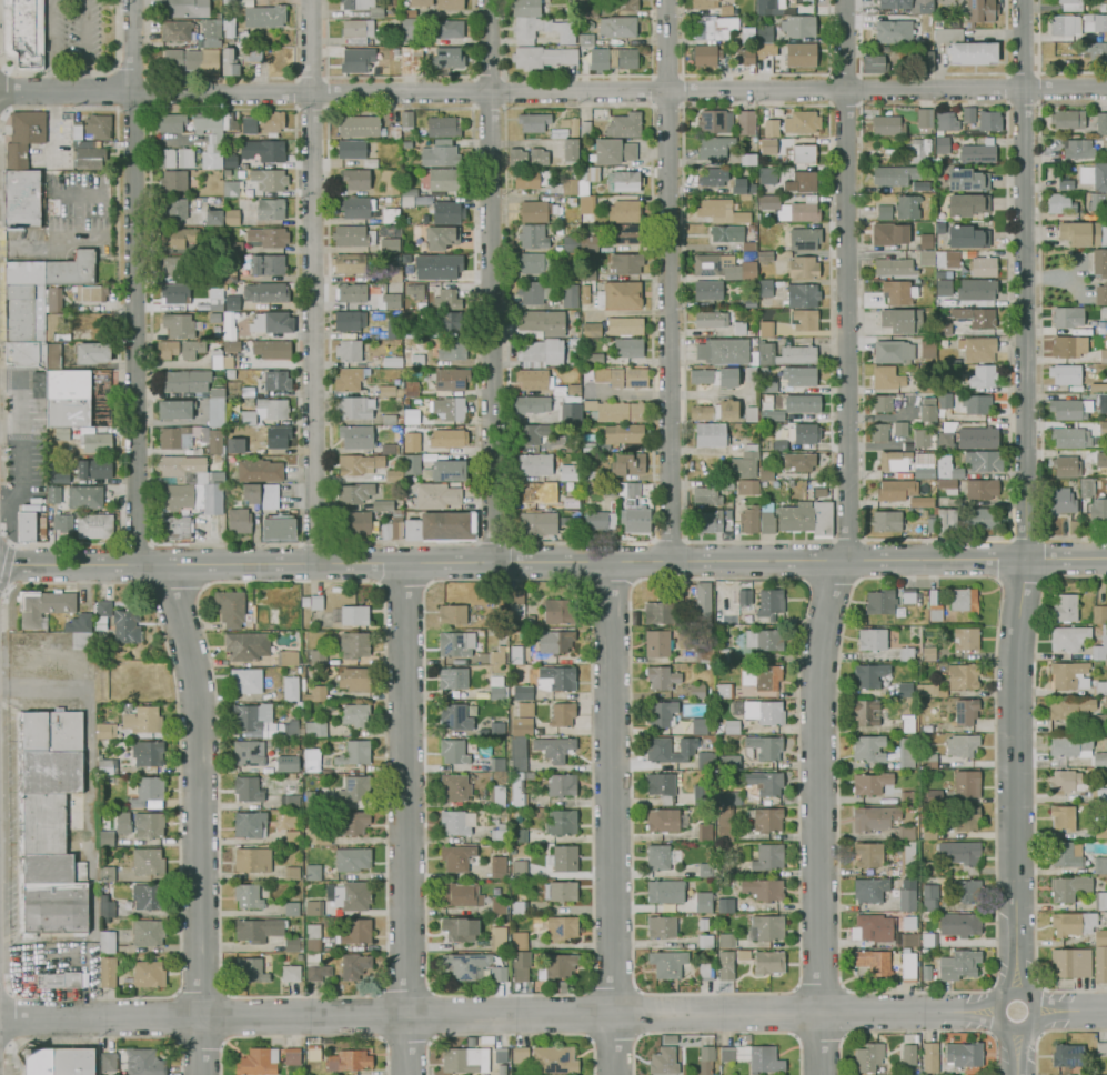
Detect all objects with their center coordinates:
building: (583, 1)
building: (231, 2)
building: (245, 2)
building: (393, 2)
building: (421, 2)
building: (705, 3)
building: (894, 3)
building: (450, 4)
building: (1073, 4)
building: (624, 6)
building: (765, 6)
building: (364, 7)
building: (187, 8)
building: (526, 8)
building: (927, 8)
building: (1104, 8)
building: (588, 10)
building: (726, 10)
building: (391, 11)
building: (982, 11)
building: (409, 12)
building: (603, 12)
building: (220, 16)
building: (264, 16)
building: (1087, 17)
building: (758, 19)
building: (954, 22)
building: (937, 23)
building: (588, 24)
building: (1063, 24)
building: (798, 26)
building: (229, 27)
building: (411, 27)
building: (617, 27)
building: (713, 27)
building: (211, 28)
building: (177, 30)
building: (446, 30)
building: (358, 31)
building: (524, 31)
building: (894, 31)
building: (23, 33)
building: (765, 33)
building: (194, 34)
building: (748, 37)
building: (243, 39)
building: (586, 39)
building: (209, 43)
road: (49, 44)
road: (82, 44)
building: (887, 48)
building: (964, 48)
building: (1096, 50)
building: (706, 54)
building: (801, 54)
building: (447, 58)
building: (543, 58)
building: (745, 58)
building: (356, 59)
building: (613, 59)
building: (194, 60)
building: (239, 60)
building: (411, 60)
building: (926, 60)
building: (874, 63)
road: (1037, 70)
road: (1022, 71)
road: (85, 72)
road: (932, 72)
road: (755, 73)
road: (844, 73)
road: (576, 74)
road: (666, 74)
road: (489, 76)
road: (311, 77)
road: (399, 77)
road: (219, 78)
road: (1006, 88)
road: (1039, 88)
road: (112, 89)
road: (828, 89)
road: (861, 89)
road: (651, 90)
road: (683, 90)
road: (473, 91)
road: (505, 91)
road: (553, 91)
road: (295, 93)
road: (326, 93)
road: (150, 94)
road: (1006, 104)
road: (1023, 104)
road: (844, 106)
road: (505, 107)
road: (489, 108)
road: (666, 108)
road: (133, 110)
road: (311, 111)
building: (969, 114)
building: (925, 117)
building: (1068, 119)
building: (406, 120)
building: (989, 120)
building: (228, 121)
building: (272, 121)
building: (534, 121)
building: (715, 121)
building: (746, 122)
building: (802, 122)
building: (946, 122)
building: (170, 123)
building: (1101, 123)
building: (248, 124)
building: (625, 124)
building: (888, 124)
building: (98, 127)
building: (360, 127)
building: (444, 127)
building: (772, 128)
building: (566, 129)
building: (585, 130)
building: (77, 132)
building: (394, 132)
building: (24, 138)
building: (210, 140)
building: (406, 143)
road: (523, 143)
building: (922, 144)
building: (943, 144)
building: (768, 147)
building: (717, 148)
building: (1078, 148)
building: (352, 149)
building: (263, 150)
building: (571, 150)
building: (612, 151)
building: (979, 152)
building: (804, 153)
building: (440, 154)
building: (1106, 154)
building: (517, 157)
building: (539, 157)
building: (90, 158)
building: (167, 158)
building: (185, 158)
building: (748, 160)
building: (230, 161)
building: (574, 169)
building: (227, 171)
building: (556, 172)
building: (588, 173)
building: (896, 174)
building: (767, 175)
building: (1095, 175)
building: (713, 177)
building: (531, 178)
building: (270, 179)
building: (356, 179)
building: (967, 179)
building: (174, 180)
building: (444, 180)
building: (390, 181)
building: (624, 181)
building: (802, 181)
building: (744, 184)
building: (1066, 184)
building: (566, 185)
building: (920, 185)
building: (231, 188)
building: (410, 191)
building: (20, 199)
building: (204, 199)
building: (423, 200)
building: (407, 201)
building: (572, 201)
building: (768, 201)
building: (1097, 201)
building: (1060, 203)
building: (586, 204)
building: (968, 204)
building: (907, 207)
building: (358, 208)
building: (174, 209)
building: (270, 209)
building: (722, 209)
building: (536, 211)
building: (624, 211)
building: (447, 212)
building: (804, 212)
building: (884, 212)
building: (391, 214)
building: (213, 217)
building: (231, 218)
building: (422, 219)
building: (940, 228)
building: (727, 232)
building: (625, 233)
building: (889, 233)
building: (1080, 233)
building: (353, 235)
building: (268, 237)
building: (533, 237)
building: (967, 237)
building: (440, 238)
building: (805, 238)
building: (183, 239)
building: (571, 243)
building: (588, 243)
building: (389, 245)
building: (749, 245)
building: (237, 248)
building: (765, 257)
building: (927, 258)
building: (947, 259)
building: (626, 262)
building: (1100, 262)
building: (349, 263)
building: (534, 263)
building: (268, 264)
building: (713, 264)
building: (173, 265)
building: (437, 267)
building: (894, 267)
building: (984, 267)
building: (804, 268)
building: (394, 269)
building: (748, 270)
building: (53, 271)
building: (230, 274)
building: (570, 274)
building: (940, 274)
building: (588, 275)
road: (668, 279)
road: (1025, 279)
road: (491, 280)
road: (312, 281)
building: (942, 287)
building: (977, 289)
building: (708, 290)
building: (415, 291)
building: (533, 291)
building: (265, 292)
building: (899, 292)
building: (90, 293)
building: (174, 293)
building: (351, 293)
building: (1100, 293)
building: (585, 294)
building: (620, 294)
building: (768, 294)
building: (570, 295)
building: (803, 295)
building: (53, 300)
building: (217, 300)
building: (392, 300)
building: (447, 300)
building: (232, 302)
building: (751, 302)
building: (76, 308)
building: (1104, 309)
building: (24, 313)
building: (215, 317)
building: (1067, 317)
road: (1040, 318)
building: (711, 319)
building: (805, 319)
building: (349, 320)
building: (444, 320)
building: (903, 320)
building: (272, 322)
building: (982, 322)
building: (541, 323)
building: (1094, 323)
building: (179, 325)
building: (229, 325)
building: (625, 325)
building: (392, 328)
building: (739, 328)
building: (766, 328)
building: (1101, 328)
building: (409, 330)
building: (591, 330)
building: (217, 331)
building: (751, 332)
building: (573, 342)
building: (404, 343)
building: (928, 346)
building: (1069, 346)
building: (630, 348)
building: (978, 348)
building: (192, 349)
building: (272, 349)
building: (167, 350)
building: (349, 350)
building: (724, 351)
building: (893, 351)
building: (434, 352)
building: (540, 352)
building: (26, 353)
building: (92, 353)
building: (231, 353)
building: (785, 354)
building: (1104, 355)
building: (53, 356)
building: (217, 359)
building: (392, 362)
building: (924, 366)
building: (763, 368)
building: (230, 373)
building: (751, 374)
building: (1065, 374)
building: (799, 375)
building: (979, 375)
building: (610, 376)
building: (716, 376)
building: (636, 378)
building: (887, 378)
building: (349, 379)
building: (451, 379)
building: (534, 379)
building: (220, 380)
building: (276, 380)
building: (187, 381)
building: (928, 383)
building: (39, 384)
building: (769, 386)
building: (1098, 386)
building: (411, 389)
building: (574, 389)
building: (560, 390)
building: (248, 391)
building: (390, 391)
building: (217, 392)
building: (70, 400)
building: (944, 400)
building: (1101, 402)
building: (803, 403)
building: (883, 403)
building: (976, 403)
building: (531, 404)
building: (99, 406)
building: (274, 408)
building: (355, 408)
building: (175, 409)
building: (450, 409)
building: (927, 409)
building: (1070, 409)
building: (606, 410)
building: (638, 411)
building: (716, 411)
building: (217, 412)
building: (571, 413)
building: (751, 414)
building: (772, 415)
road: (879, 416)
building: (249, 418)
building: (390, 420)
building: (940, 420)
building: (938, 425)
building: (263, 426)
building: (1103, 428)
building: (900, 429)
road: (9, 430)
building: (600, 430)
building: (574, 432)
building: (879, 432)
building: (531, 433)
building: (623, 433)
building: (807, 433)
building: (62, 434)
building: (711, 434)
building: (946, 435)
building: (172, 436)
building: (276, 436)
building: (356, 436)
building: (449, 438)
building: (922, 438)
building: (978, 438)
building: (1071, 438)
road: (19, 439)
building: (97, 442)
building: (215, 442)
building: (412, 442)
building: (566, 444)
building: (235, 445)
building: (781, 445)
building: (588, 446)
building: (633, 446)
building: (390, 449)
building: (895, 460)
building: (984, 460)
building: (799, 461)
building: (745, 462)
building: (359, 463)
building: (412, 464)
building: (534, 464)
building: (628, 464)
building: (181, 466)
building: (1067, 466)
building: (51, 468)
building: (948, 468)
building: (94, 469)
building: (259, 470)
building: (449, 470)
building: (766, 472)
building: (924, 472)
building: (568, 473)
building: (590, 475)
building: (394, 476)
road: (121, 478)
building: (203, 478)
building: (712, 478)
building: (764, 483)
building: (1106, 483)
building: (725, 484)
building: (948, 485)
building: (747, 486)
building: (1087, 488)
building: (633, 489)
building: (983, 489)
building: (410, 490)
building: (896, 490)
building: (610, 491)
building: (251, 492)
building: (537, 492)
building: (355, 493)
building: (437, 495)
building: (175, 496)
building: (270, 496)
building: (706, 496)
building: (85, 498)
building: (210, 498)
building: (922, 501)
building: (1061, 501)
building: (571, 502)
building: (382, 505)
building: (1098, 511)
building: (728, 514)
building: (806, 518)
building: (749, 519)
building: (767, 519)
building: (982, 519)
building: (239, 520)
building: (601, 520)
building: (635, 520)
building: (886, 520)
building: (942, 520)
building: (564, 521)
building: (61, 522)
building: (708, 522)
building: (356, 523)
building: (539, 523)
building: (95, 524)
building: (393, 525)
building: (175, 526)
building: (279, 526)
building: (442, 526)
building: (1075, 526)
building: (26, 528)
road: (1027, 536)
road: (848, 539)
road: (476, 540)
road: (668, 540)
road: (832, 540)
road: (846, 540)
road: (314, 541)
road: (492, 541)
road: (296, 543)
road: (134, 544)
road: (138, 544)
road: (989, 556)
road: (653, 559)
road: (1045, 559)
road: (437, 560)
road: (553, 560)
road: (690, 560)
road: (864, 560)
road: (368, 561)
road: (1022, 585)
road: (403, 587)
road: (610, 587)
road: (174, 589)
road: (829, 592)
building: (925, 593)
building: (908, 595)
building: (742, 596)
building: (806, 599)
building: (963, 600)
building: (316, 602)
building: (880, 602)
building: (703, 603)
building: (769, 603)
building: (43, 605)
building: (517, 605)
building: (231, 607)
building: (935, 607)
building: (1065, 607)
building: (556, 611)
building: (660, 612)
building: (102, 614)
building: (453, 614)
building: (1099, 614)
building: (354, 615)
building: (727, 617)
building: (681, 621)
building: (80, 623)
building: (127, 625)
building: (723, 631)
building: (1069, 637)
building: (873, 639)
building: (966, 639)
building: (556, 640)
building: (739, 640)
building: (765, 640)
building: (82, 641)
building: (658, 642)
building: (456, 643)
building: (722, 643)
building: (354, 644)
building: (480, 644)
building: (246, 645)
building: (1100, 646)
building: (928, 651)
building: (906, 653)
building: (517, 654)
building: (497, 655)
building: (704, 655)
building: (724, 655)
building: (288, 657)
building: (318, 657)
building: (323, 670)
building: (870, 674)
building: (1068, 675)
building: (662, 676)
building: (964, 676)
building: (763, 677)
building: (354, 679)
building: (453, 679)
building: (556, 679)
building: (245, 681)
building: (304, 685)
building: (497, 687)
building: (1099, 687)
building: (291, 689)
building: (906, 690)
building: (697, 691)
building: (726, 691)
building: (930, 691)
building: (523, 692)
building: (316, 693)
building: (1105, 702)
building: (128, 707)
building: (311, 707)
building: (525, 709)
building: (1070, 709)
building: (966, 711)
building: (765, 712)
building: (866, 712)
building: (663, 713)
building: (355, 714)
building: (563, 714)
building: (455, 716)
building: (142, 720)
building: (263, 721)
building: (907, 722)
building: (1100, 722)
building: (702, 725)
building: (522, 726)
building: (732, 726)
building: (926, 727)
building: (314, 729)
building: (497, 729)
building: (105, 733)
road: (179, 737)
building: (924, 745)
building: (962, 745)
building: (1069, 745)
building: (766, 746)
building: (555, 749)
building: (866, 749)
building: (668, 750)
building: (249, 752)
building: (453, 752)
building: (148, 753)
building: (354, 753)
building: (519, 753)
building: (312, 760)
building: (1100, 760)
building: (706, 761)
building: (928, 761)
building: (497, 764)
building: (735, 764)
building: (107, 765)
building: (291, 765)
road: (1014, 775)
building: (292, 776)
building: (103, 780)
building: (1067, 781)
building: (757, 782)
building: (870, 783)
building: (967, 783)
building: (562, 785)
building: (456, 786)
building: (662, 786)
road: (1034, 786)
building: (520, 787)
building: (248, 788)
building: (354, 788)
building: (148, 791)
building: (497, 795)
building: (933, 795)
building: (1099, 795)
building: (729, 797)
building: (909, 797)
building: (290, 802)
building: (312, 802)
road: (612, 817)
building: (875, 817)
building: (1064, 817)
road: (404, 818)
building: (766, 818)
building: (968, 818)
building: (665, 820)
building: (123, 822)
building: (354, 822)
building: (456, 822)
building: (562, 822)
building: (50, 823)
building: (149, 824)
building: (264, 825)
building: (727, 825)
building: (927, 831)
building: (499, 832)
building: (705, 832)
building: (905, 832)
building: (1099, 832)
building: (312, 835)
building: (521, 835)
building: (107, 838)
building: (540, 846)
building: (1066, 853)
building: (868, 854)
building: (953, 855)
building: (457, 857)
building: (658, 857)
building: (768, 857)
building: (352, 858)
building: (565, 858)
building: (907, 858)
building: (252, 860)
building: (148, 862)
building: (471, 863)
building: (1100, 865)
building: (499, 867)
building: (520, 868)
building: (723, 868)
building: (705, 870)
building: (292, 873)
building: (313, 873)
building: (107, 874)
road: (996, 887)
building: (1068, 887)
building: (763, 888)
building: (869, 890)
building: (563, 891)
building: (666, 891)
building: (967, 891)
building: (461, 894)
building: (248, 895)
building: (350, 895)
building: (150, 896)
building: (930, 896)
building: (907, 900)
building: (1100, 901)
building: (704, 902)
building: (497, 905)
building: (725, 905)
building: (314, 907)
building: (520, 907)
building: (292, 908)
building: (108, 910)
building: (925, 915)
building: (703, 923)
building: (1073, 923)
building: (959, 924)
building: (662, 926)
building: (875, 926)
building: (563, 927)
building: (767, 927)
building: (460, 928)
building: (258, 930)
building: (356, 932)
building: (149, 933)
building: (313, 935)
building: (499, 937)
building: (1100, 937)
building: (108, 938)
building: (727, 940)
building: (910, 940)
building: (929, 940)
building: (520, 941)
building: (705, 942)
building: (1089, 942)
building: (294, 944)
building: (680, 945)
building: (744, 954)
building: (769, 962)
building: (874, 962)
building: (1073, 962)
building: (667, 963)
building: (958, 964)
building: (1100, 964)
road: (386, 965)
building: (466, 965)
building: (521, 965)
building: (726, 965)
building: (909, 965)
building: (315, 966)
building: (354, 966)
building: (557, 966)
building: (251, 969)
building: (108, 972)
building: (706, 972)
road: (798, 972)
building: (927, 972)
building: (291, 973)
building: (149, 974)
building: (500, 974)
road: (593, 978)
building: (59, 979)
road: (818, 982)
road: (1015, 983)
road: (612, 984)
building: (710, 985)
road: (199, 986)
road: (405, 986)
building: (563, 988)
road: (1070, 1009)
road: (992, 1011)
road: (1041, 1011)
road: (847, 1012)
road: (794, 1013)
road: (500, 1014)
road: (587, 1014)
road: (638, 1014)
road: (382, 1015)
road: (441, 1015)
road: (227, 1016)
road: (175, 1017)
road: (1016, 1027)
road: (1053, 1029)
road: (918, 1031)
road: (717, 1033)
road: (511, 1034)
road: (304, 1035)
road: (819, 1036)
road: (1016, 1036)
road: (152, 1037)
road: (614, 1038)
road: (201, 1042)
road: (406, 1042)
building: (1101, 1048)
road: (1017, 1052)
building: (314, 1053)
building: (501, 1054)
building: (909, 1054)
building: (521, 1055)
building: (952, 1055)
building: (868, 1056)
building: (754, 1057)
building: (1068, 1057)
building: (293, 1058)
building: (462, 1059)
building: (554, 1059)
building: (706, 1059)
building: (57, 1061)
building: (349, 1061)
building: (108, 1062)
building: (143, 1062)
building: (258, 1062)
building: (664, 1062)
building: (312, 1065)
building: (719, 1068)
building: (502, 1069)
building: (105, 1073)

